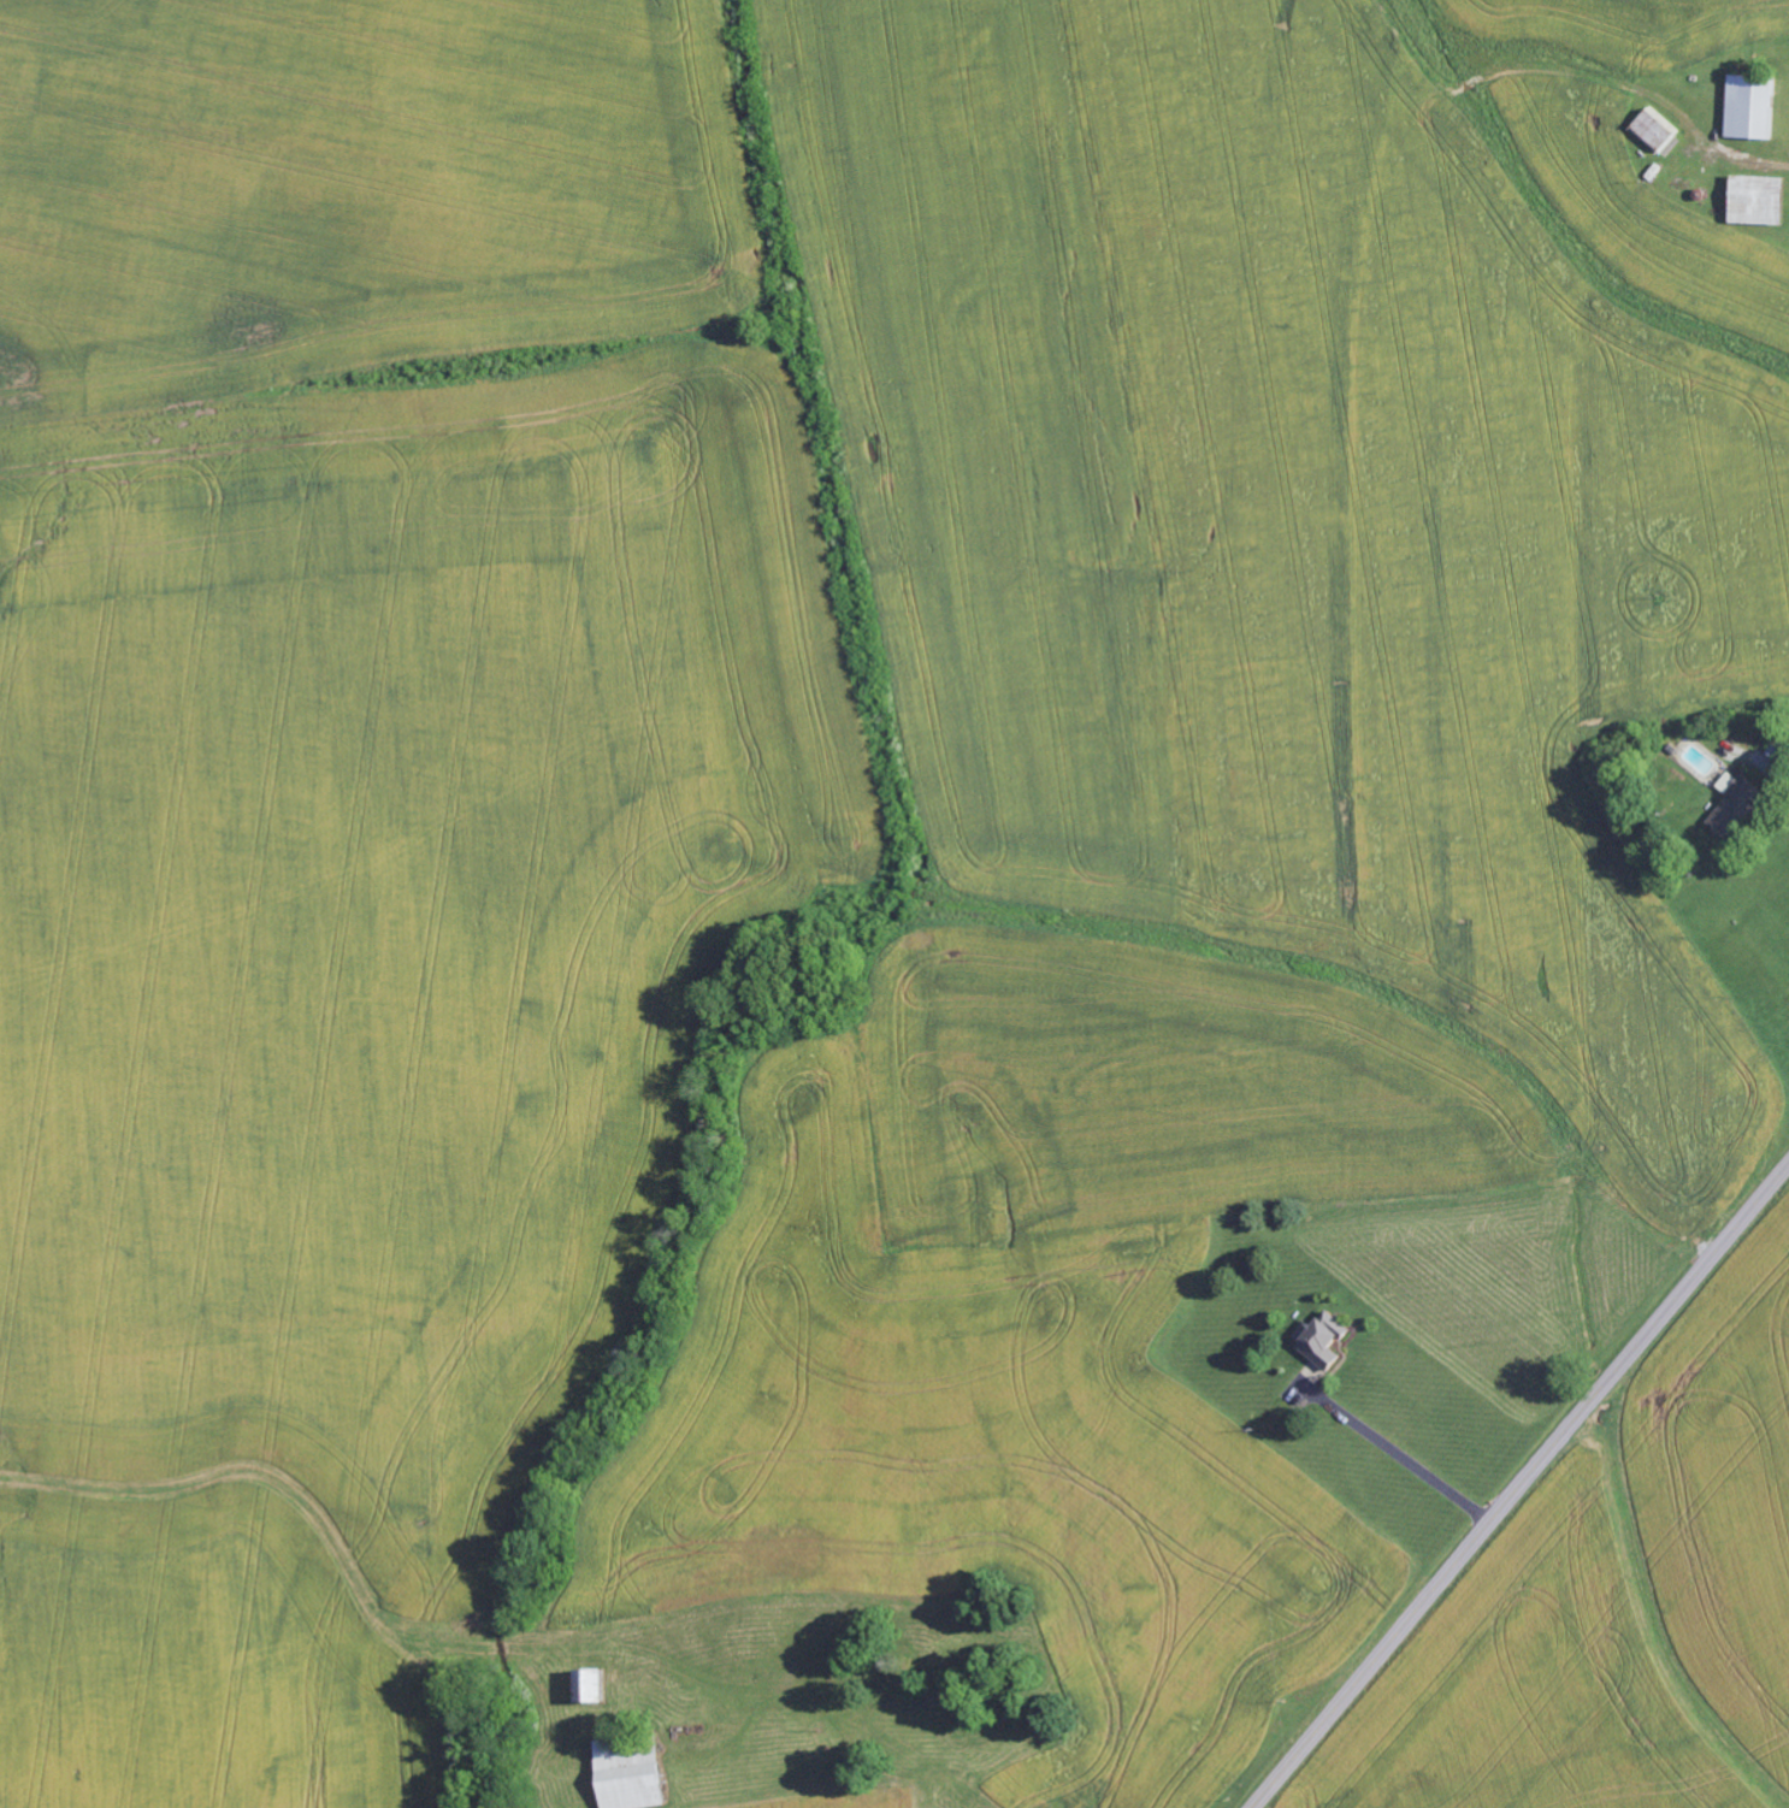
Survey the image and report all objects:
building: (1752, 110)
building: (1657, 136)
building: (1779, 751)
building: (1737, 804)
building: (1325, 1342)
road: (1521, 1485)
building: (591, 1688)
building: (631, 1774)

